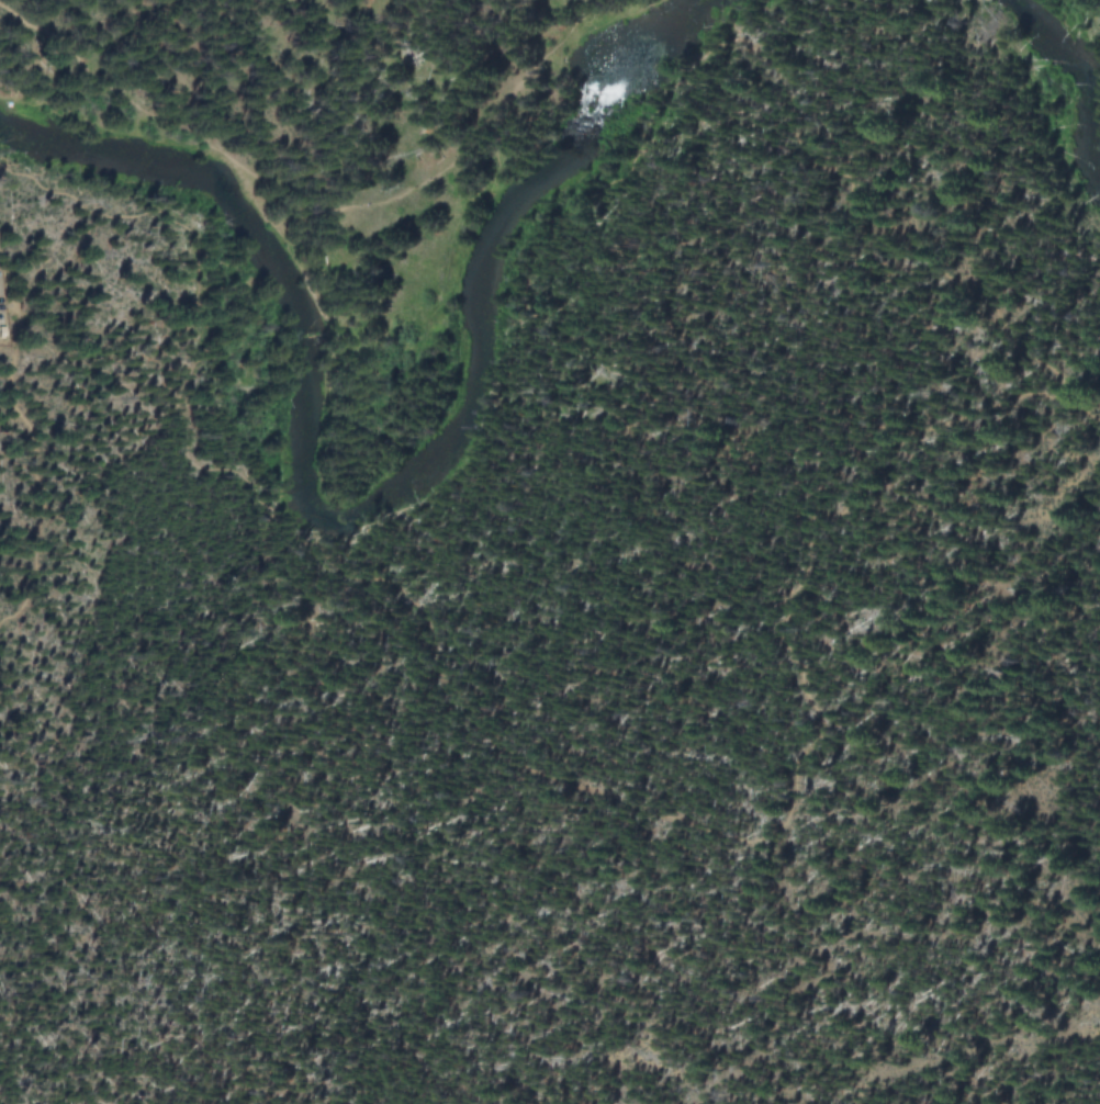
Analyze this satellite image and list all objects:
river: (1066, 79)
road: (862, 204)
road: (301, 216)
road: (8, 305)
parking lot: (1, 314)
road: (31, 436)
river: (357, 493)
road: (531, 756)

